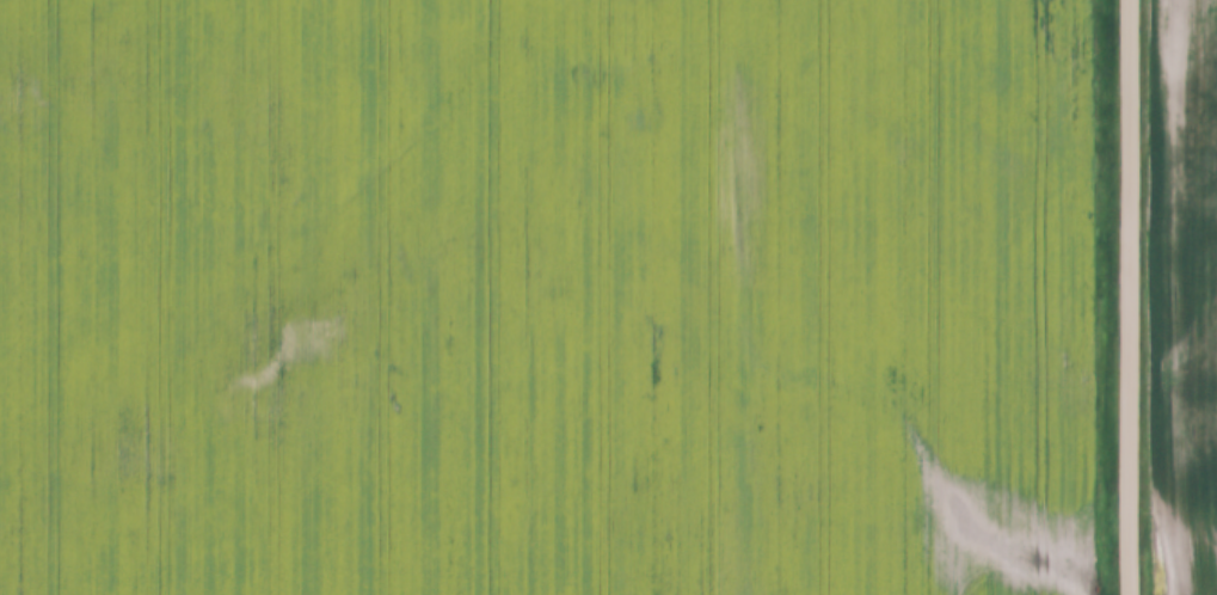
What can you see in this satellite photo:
road: (1130, 297)

